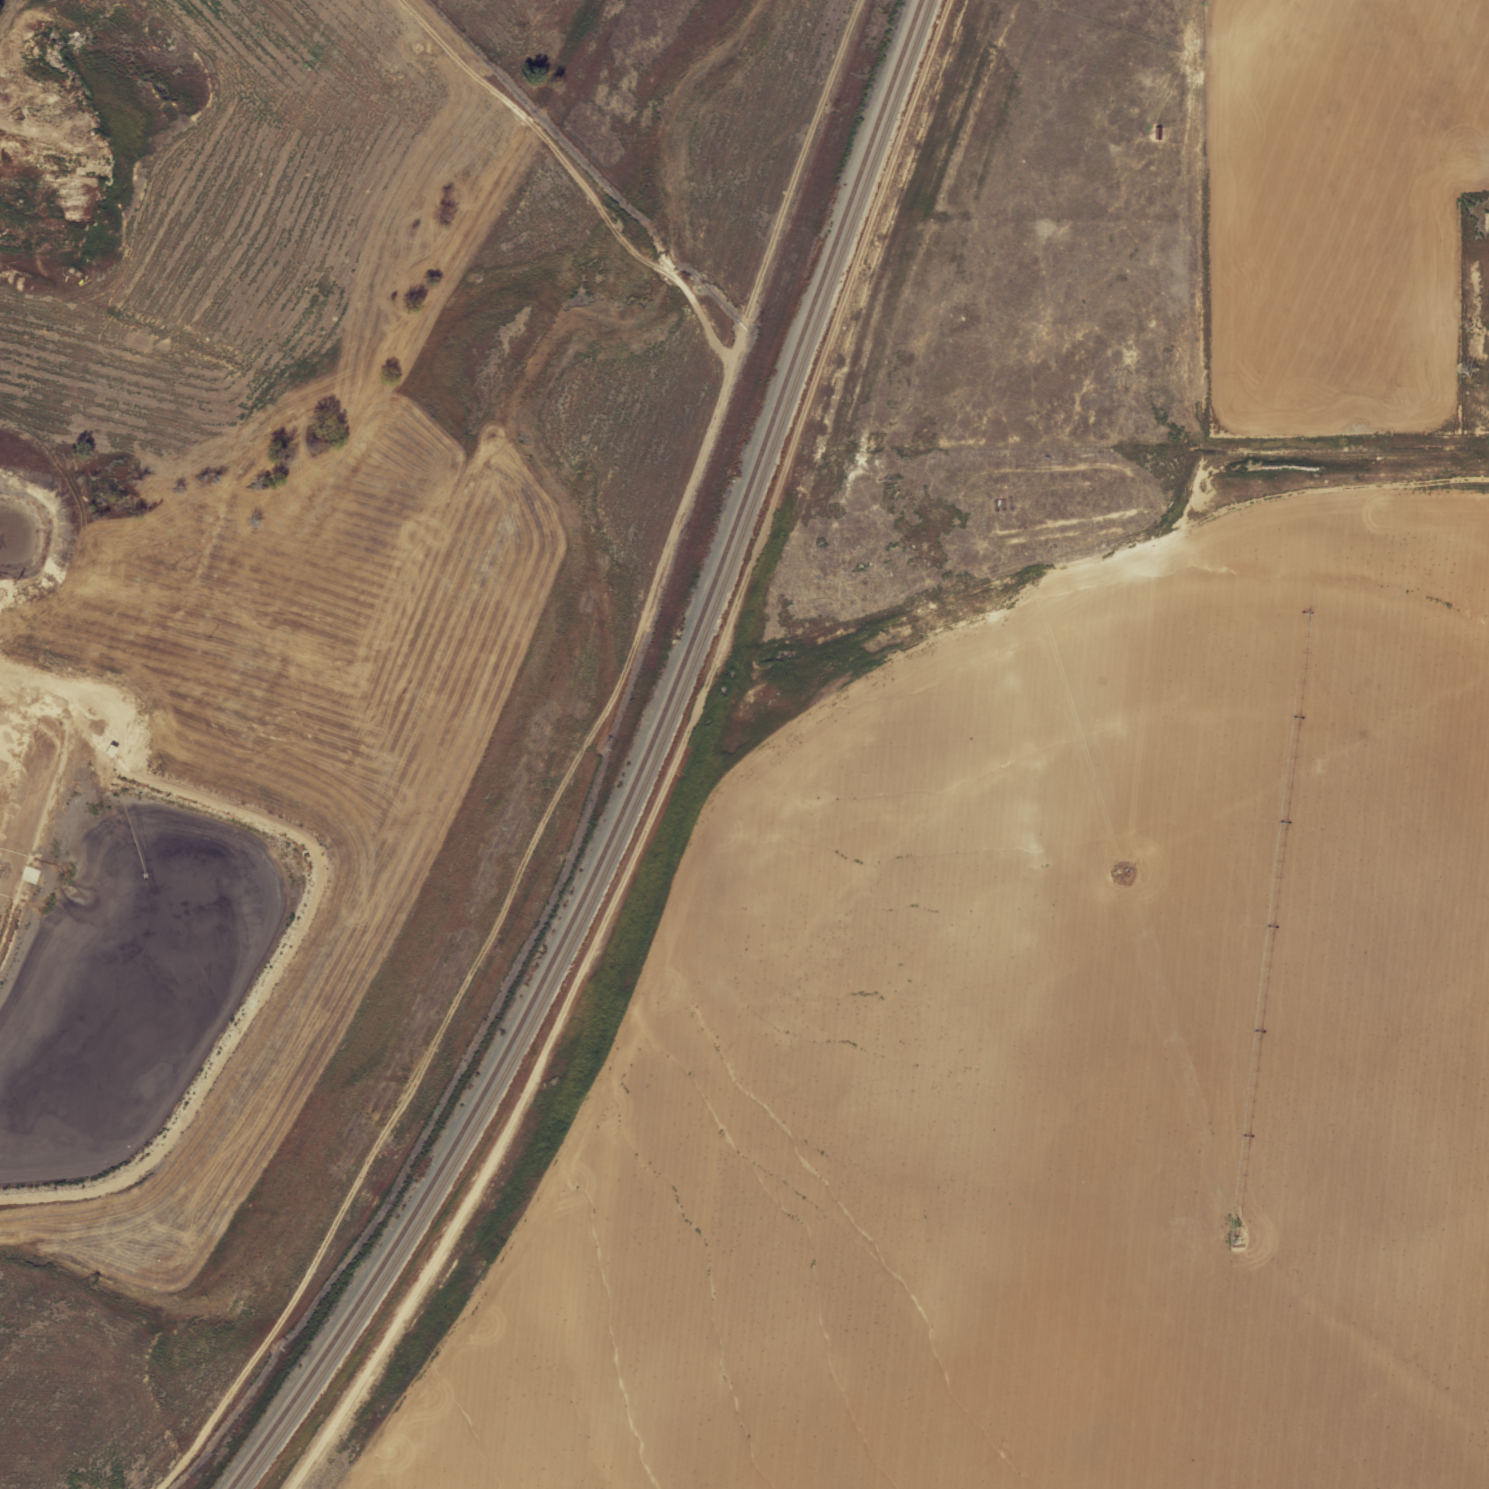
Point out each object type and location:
railway: (650, 773)
railway: (640, 775)

